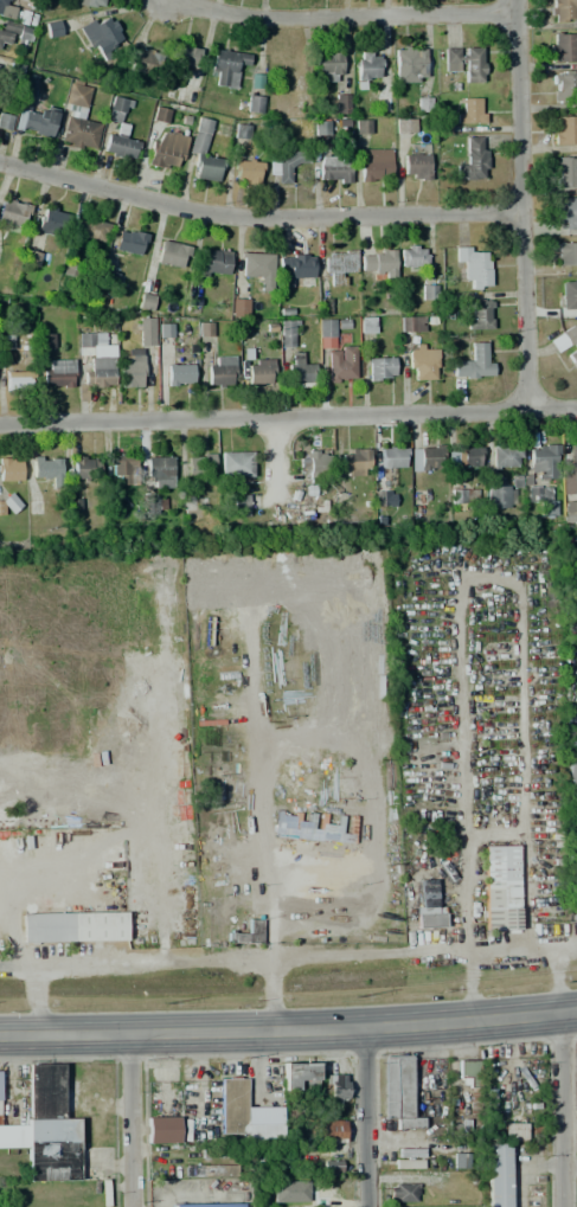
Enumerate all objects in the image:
building: (94, 2)
building: (6, 9)
building: (562, 11)
road: (342, 17)
building: (52, 30)
building: (12, 31)
building: (100, 34)
building: (564, 47)
building: (185, 56)
building: (142, 60)
building: (464, 62)
building: (409, 65)
building: (225, 66)
building: (327, 66)
building: (367, 66)
building: (282, 71)
building: (564, 86)
building: (377, 97)
building: (338, 103)
building: (254, 104)
building: (115, 108)
building: (470, 110)
building: (33, 114)
building: (78, 118)
building: (5, 122)
building: (404, 126)
building: (564, 129)
building: (117, 141)
building: (166, 149)
building: (201, 152)
building: (472, 160)
building: (283, 163)
building: (374, 163)
building: (333, 167)
building: (415, 167)
building: (246, 171)
building: (566, 172)
road: (520, 204)
building: (566, 211)
building: (13, 212)
road: (257, 216)
building: (52, 223)
building: (90, 229)
building: (129, 242)
building: (173, 252)
building: (566, 253)
building: (411, 255)
building: (212, 261)
building: (377, 263)
building: (336, 267)
building: (472, 267)
building: (257, 268)
building: (291, 268)
building: (565, 295)
building: (145, 302)
building: (238, 307)
building: (479, 314)
building: (410, 323)
building: (366, 325)
building: (205, 329)
building: (143, 330)
building: (287, 333)
building: (325, 333)
building: (91, 340)
building: (568, 340)
building: (473, 361)
building: (340, 362)
building: (419, 364)
building: (380, 368)
building: (297, 370)
building: (132, 371)
building: (222, 371)
building: (256, 371)
building: (57, 373)
building: (179, 374)
building: (96, 375)
building: (18, 379)
road: (288, 416)
building: (464, 455)
building: (506, 456)
building: (392, 457)
building: (428, 457)
road: (276, 458)
building: (354, 461)
building: (544, 461)
building: (236, 464)
building: (200, 466)
building: (314, 466)
building: (85, 467)
building: (46, 468)
building: (123, 468)
building: (11, 469)
building: (159, 471)
building: (570, 473)
building: (504, 496)
building: (387, 497)
building: (460, 499)
building: (9, 503)
building: (153, 505)
building: (241, 505)
building: (570, 512)
building: (576, 737)
building: (571, 775)
building: (328, 832)
road: (89, 842)
building: (500, 887)
building: (573, 890)
building: (428, 907)
building: (73, 927)
building: (246, 933)
road: (175, 961)
road: (557, 971)
road: (469, 977)
railway: (271, 980)
power tower: (565, 982)
railway: (288, 987)
road: (270, 995)
power tower: (354, 997)
power tower: (164, 1003)
road: (288, 1033)
building: (467, 1074)
building: (299, 1076)
building: (336, 1089)
building: (398, 1093)
building: (232, 1106)
road: (560, 1111)
road: (371, 1119)
road: (136, 1121)
building: (50, 1128)
building: (457, 1128)
building: (161, 1130)
building: (329, 1131)
building: (263, 1132)
building: (513, 1132)
building: (13, 1136)
power tower: (573, 1143)
building: (408, 1158)
building: (459, 1160)
building: (331, 1167)
building: (209, 1169)
building: (496, 1175)
building: (288, 1188)
building: (403, 1192)
building: (207, 1205)

